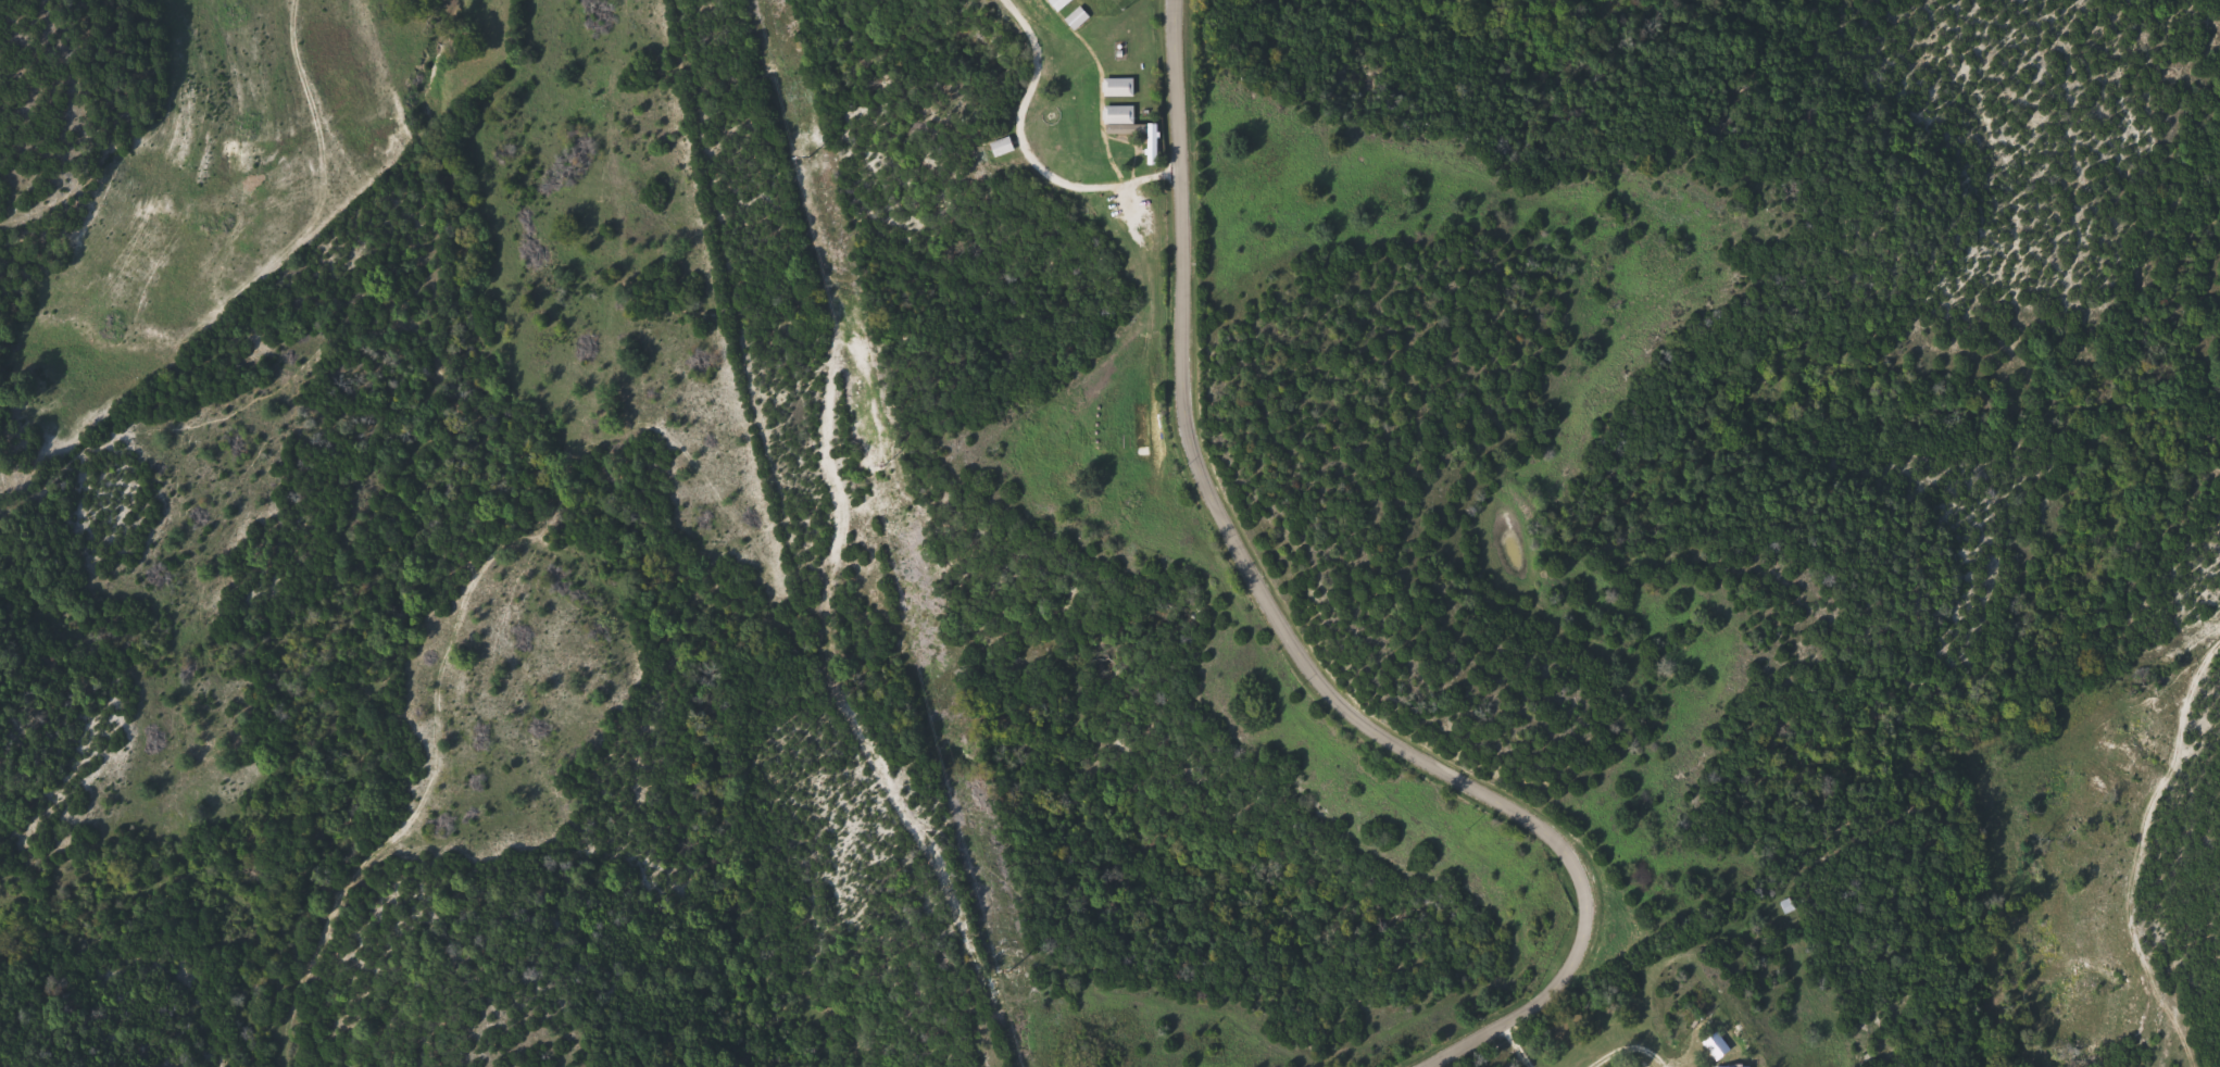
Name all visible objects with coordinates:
building: (1062, 3)
building: (1079, 18)
building: (1120, 87)
building: (1120, 114)
building: (1003, 147)
road: (1029, 152)
road: (1284, 635)
road: (885, 792)
building: (1789, 906)

